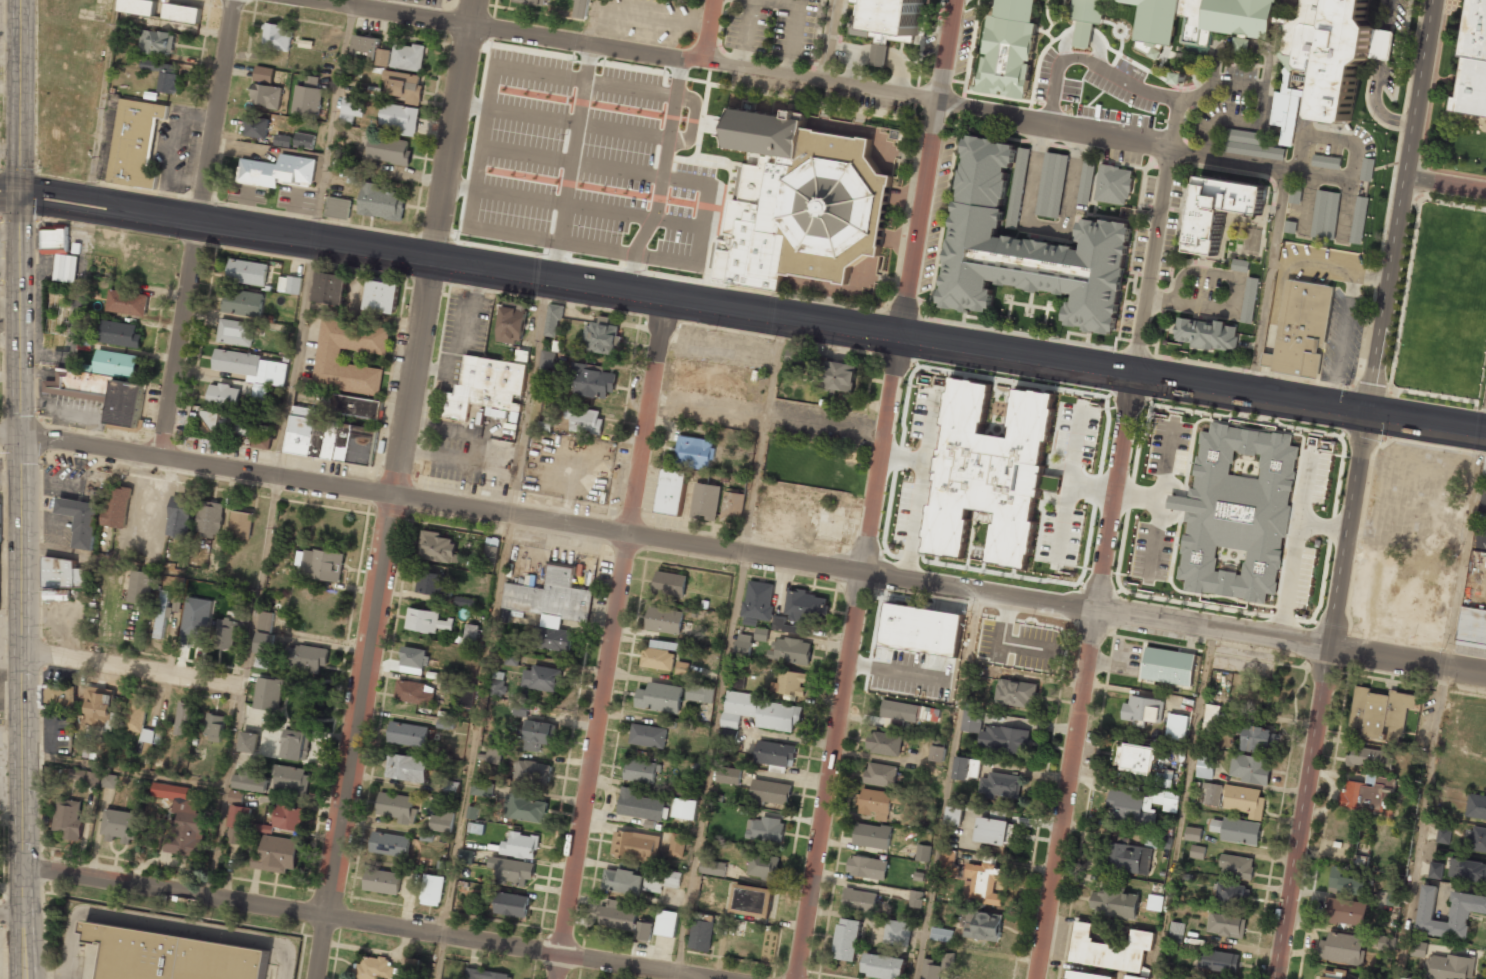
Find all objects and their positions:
building: (534, 2)
building: (139, 6)
building: (580, 8)
building: (1015, 10)
building: (183, 13)
road: (650, 16)
building: (1085, 16)
building: (1200, 19)
parking lot: (647, 20)
building: (888, 20)
road: (589, 21)
road: (795, 26)
parking lot: (774, 27)
road: (748, 34)
building: (277, 37)
road: (827, 40)
building: (157, 42)
building: (1241, 45)
building: (366, 46)
building: (403, 57)
building: (1344, 59)
building: (1472, 62)
building: (263, 74)
road: (794, 75)
building: (168, 78)
building: (404, 85)
building: (266, 95)
road: (21, 97)
building: (308, 98)
road: (100, 102)
building: (352, 109)
building: (400, 118)
road: (334, 124)
building: (257, 126)
building: (283, 140)
building: (304, 140)
building: (135, 143)
building: (1249, 144)
building: (389, 149)
building: (1326, 161)
building: (342, 166)
parking lot: (620, 169)
building: (1367, 169)
building: (277, 171)
building: (1086, 181)
road: (1444, 183)
building: (1051, 185)
building: (1113, 185)
building: (1018, 186)
road: (10, 194)
traffic signals: (21, 194)
building: (1295, 194)
building: (381, 202)
building: (802, 203)
building: (338, 207)
building: (1220, 209)
building: (1325, 214)
building: (1359, 220)
road: (196, 229)
building: (1027, 249)
building: (59, 254)
building: (1240, 265)
building: (248, 272)
road: (1269, 282)
building: (290, 284)
building: (330, 288)
building: (382, 296)
building: (1249, 300)
building: (127, 302)
building: (243, 302)
building: (57, 308)
road: (753, 311)
building: (553, 320)
building: (512, 324)
building: (1300, 328)
building: (236, 332)
building: (120, 334)
building: (1207, 334)
building: (602, 337)
road: (296, 359)
building: (327, 359)
building: (548, 359)
building: (793, 361)
building: (813, 366)
building: (252, 370)
building: (838, 376)
building: (591, 381)
building: (106, 387)
building: (485, 387)
building: (223, 395)
traffic signals: (1365, 411)
building: (584, 419)
building: (226, 422)
building: (329, 438)
building: (263, 442)
building: (694, 452)
building: (1484, 468)
building: (989, 472)
road: (394, 489)
road: (638, 489)
road: (874, 489)
road: (1352, 489)
building: (671, 491)
building: (705, 501)
building: (117, 506)
building: (733, 506)
building: (1235, 512)
building: (180, 516)
building: (210, 518)
building: (81, 520)
building: (241, 524)
building: (438, 547)
road: (1465, 551)
road: (743, 553)
building: (490, 555)
road: (1103, 563)
building: (321, 564)
building: (63, 573)
building: (670, 584)
building: (432, 585)
road: (21, 586)
building: (140, 586)
building: (56, 596)
building: (759, 600)
building: (465, 602)
building: (805, 605)
building: (551, 606)
building: (162, 614)
building: (265, 620)
building: (426, 620)
building: (664, 620)
building: (1009, 624)
building: (1472, 625)
road: (492, 628)
building: (922, 629)
building: (190, 633)
building: (226, 633)
building: (471, 634)
building: (762, 634)
building: (265, 643)
building: (743, 644)
road: (729, 646)
building: (790, 650)
building: (306, 658)
building: (512, 658)
building: (414, 660)
building: (1168, 666)
road: (968, 667)
road: (132, 668)
building: (682, 668)
building: (940, 675)
building: (542, 678)
building: (738, 681)
building: (497, 683)
building: (790, 683)
road: (241, 688)
building: (415, 692)
building: (268, 693)
building: (700, 693)
building: (1016, 693)
building: (59, 696)
building: (466, 697)
building: (660, 698)
building: (738, 707)
building: (101, 708)
building: (1143, 709)
building: (907, 711)
building: (136, 713)
building: (1379, 714)
building: (778, 716)
building: (184, 718)
building: (971, 718)
building: (1211, 718)
building: (444, 724)
building: (214, 727)
building: (1176, 727)
building: (408, 734)
building: (539, 734)
building: (648, 735)
building: (729, 735)
building: (1257, 737)
building: (1003, 738)
building: (249, 742)
building: (884, 743)
building: (296, 744)
building: (775, 753)
building: (938, 753)
building: (493, 755)
building: (1135, 758)
building: (1370, 758)
building: (407, 767)
building: (1205, 767)
building: (966, 768)
building: (1249, 768)
road: (125, 769)
building: (641, 771)
building: (532, 772)
building: (880, 774)
building: (727, 775)
building: (86, 776)
building: (1164, 778)
building: (290, 779)
building: (109, 781)
building: (251, 781)
building: (1000, 785)
building: (452, 788)
building: (482, 788)
building: (770, 792)
building: (1366, 792)
building: (1212, 794)
building: (236, 797)
building: (1244, 800)
building: (874, 804)
road: (1189, 804)
building: (640, 805)
building: (1140, 805)
building: (397, 807)
building: (1476, 807)
building: (525, 808)
building: (684, 808)
building: (472, 812)
building: (910, 815)
building: (954, 816)
building: (288, 817)
building: (68, 818)
building: (183, 820)
building: (442, 822)
road: (1422, 823)
building: (120, 825)
building: (238, 825)
building: (478, 828)
building: (765, 829)
building: (1237, 830)
building: (992, 831)
building: (1193, 833)
building: (872, 835)
building: (1443, 835)
building: (1477, 839)
building: (1165, 843)
building: (390, 844)
building: (520, 845)
building: (636, 845)
building: (677, 845)
building: (1197, 851)
building: (923, 853)
building: (277, 854)
building: (467, 856)
building: (1130, 858)
building: (948, 861)
building: (711, 865)
building: (763, 865)
building: (1236, 866)
building: (867, 867)
building: (511, 870)
building: (1435, 870)
building: (1467, 870)
building: (661, 879)
building: (382, 881)
building: (623, 881)
building: (1349, 881)
building: (982, 883)
building: (432, 890)
building: (752, 899)
building: (915, 899)
building: (1393, 899)
building: (859, 900)
building: (1114, 902)
building: (1154, 903)
building: (512, 904)
building: (1345, 911)
building: (1460, 912)
road: (11, 913)
building: (619, 915)
road: (358, 922)
building: (666, 923)
building: (983, 925)
building: (1226, 925)
building: (643, 930)
building: (1176, 932)
building: (700, 933)
building: (897, 933)
building: (941, 934)
building: (847, 939)
building: (1386, 943)
building: (1342, 948)
building: (1110, 949)
building: (1418, 949)
building: (172, 956)
building: (1220, 961)
building: (884, 966)
building: (1449, 967)
building: (375, 968)
building: (930, 970)
building: (486, 974)
building: (1333, 974)
building: (1087, 976)
road: (675, 977)
building: (1134, 977)
building: (1406, 978)

